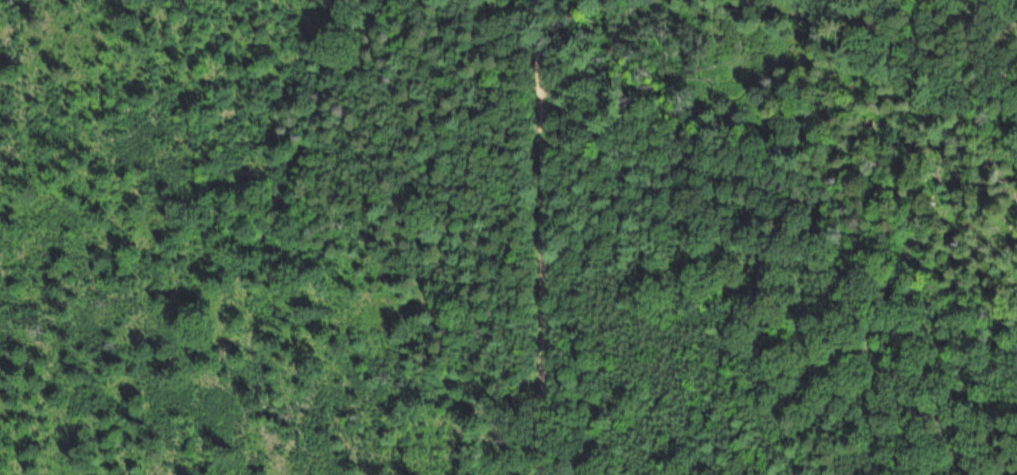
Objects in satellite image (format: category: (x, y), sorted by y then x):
road: (863, 22)
road: (926, 42)
road: (852, 72)
road: (540, 237)
road: (812, 284)

